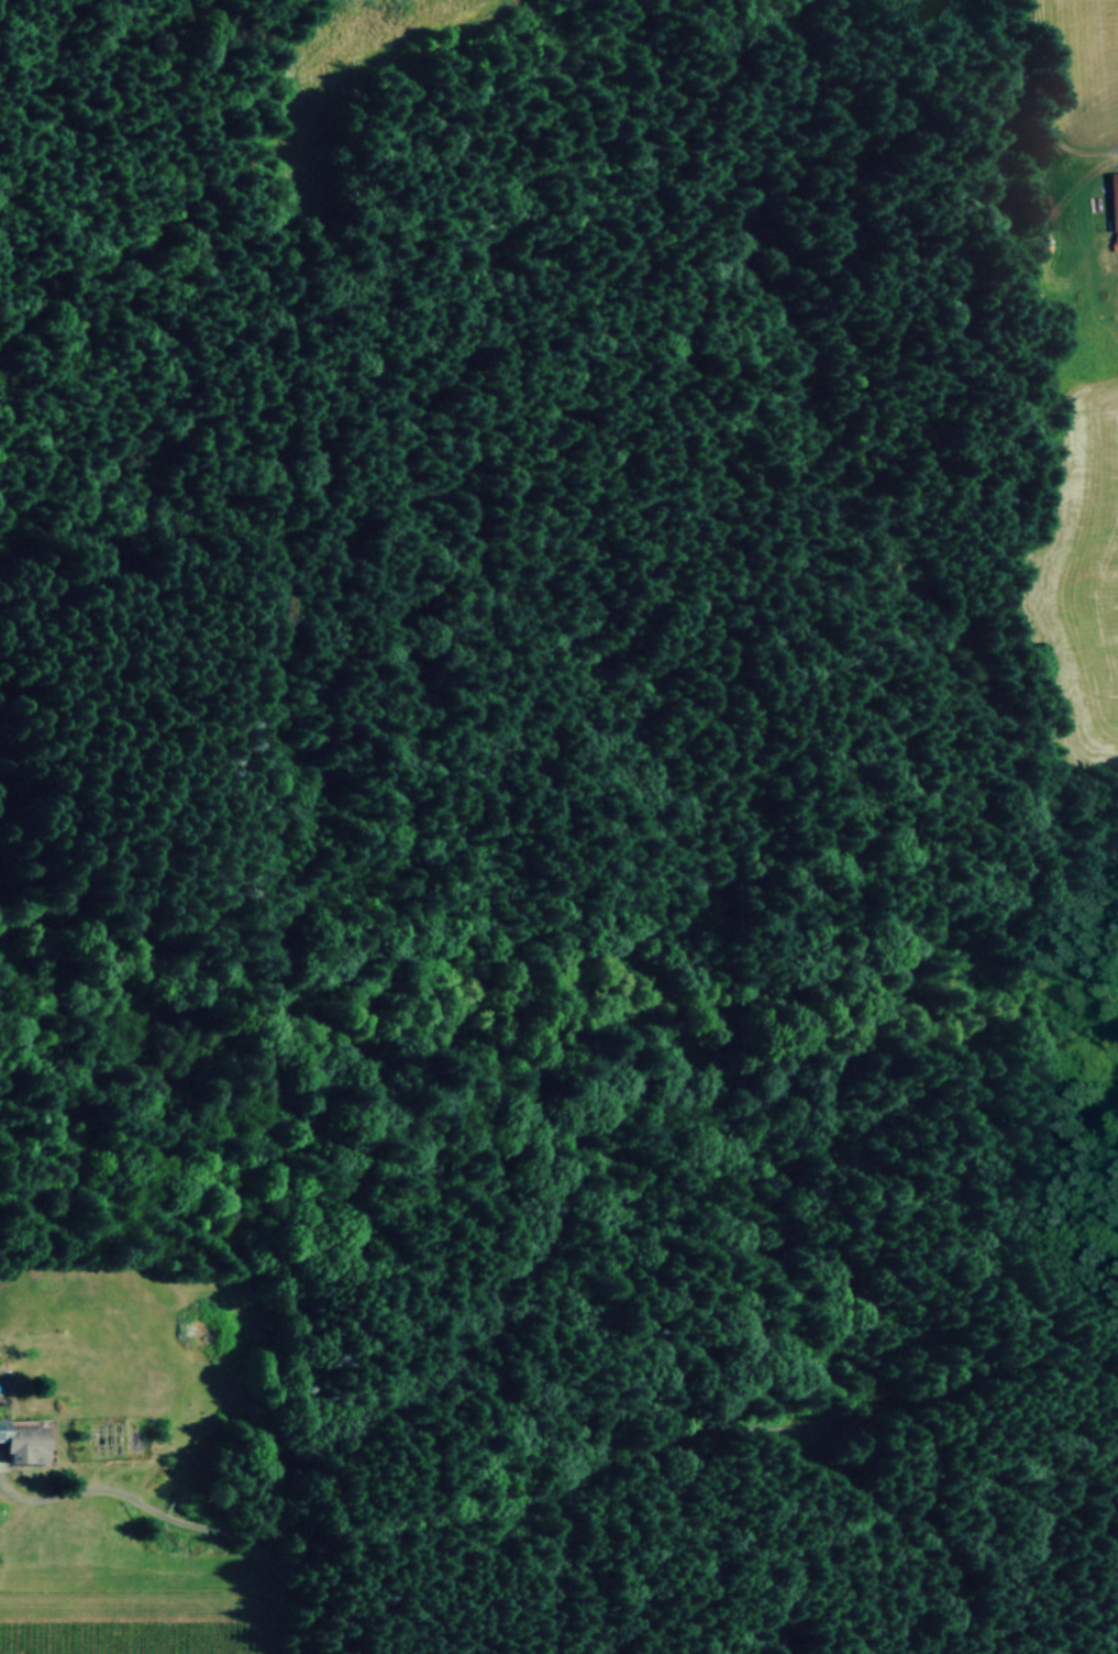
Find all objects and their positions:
building: (1117, 244)
road: (566, 1481)

